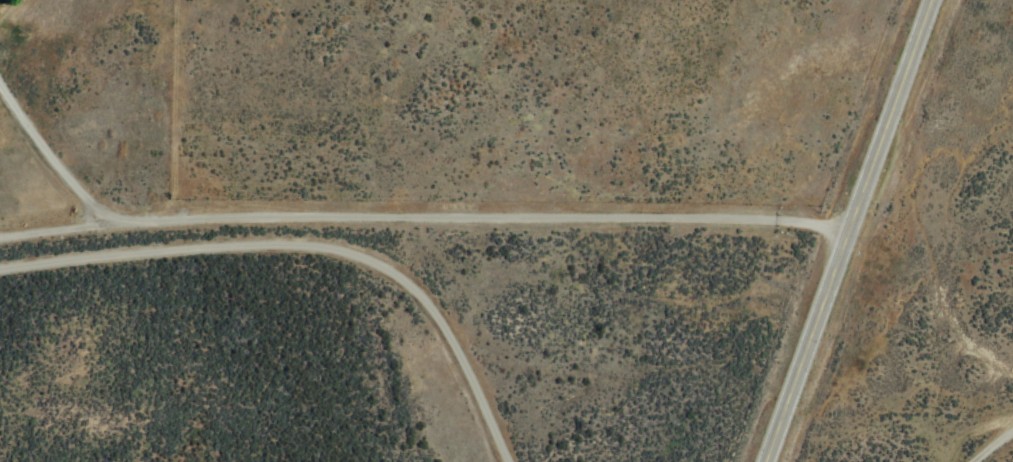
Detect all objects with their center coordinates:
crop: (529, 221)
road: (855, 230)
road: (994, 442)

